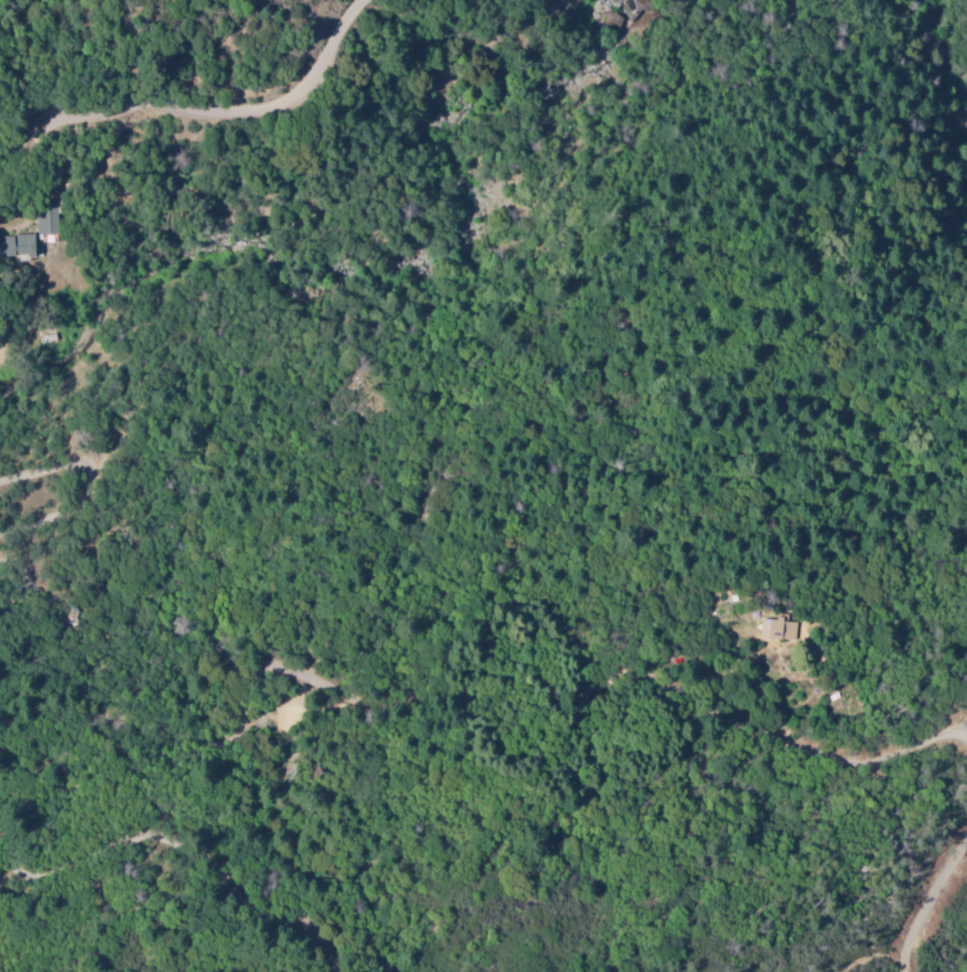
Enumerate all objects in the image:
road: (206, 111)
building: (16, 247)
building: (777, 630)
road: (476, 697)
road: (931, 911)

